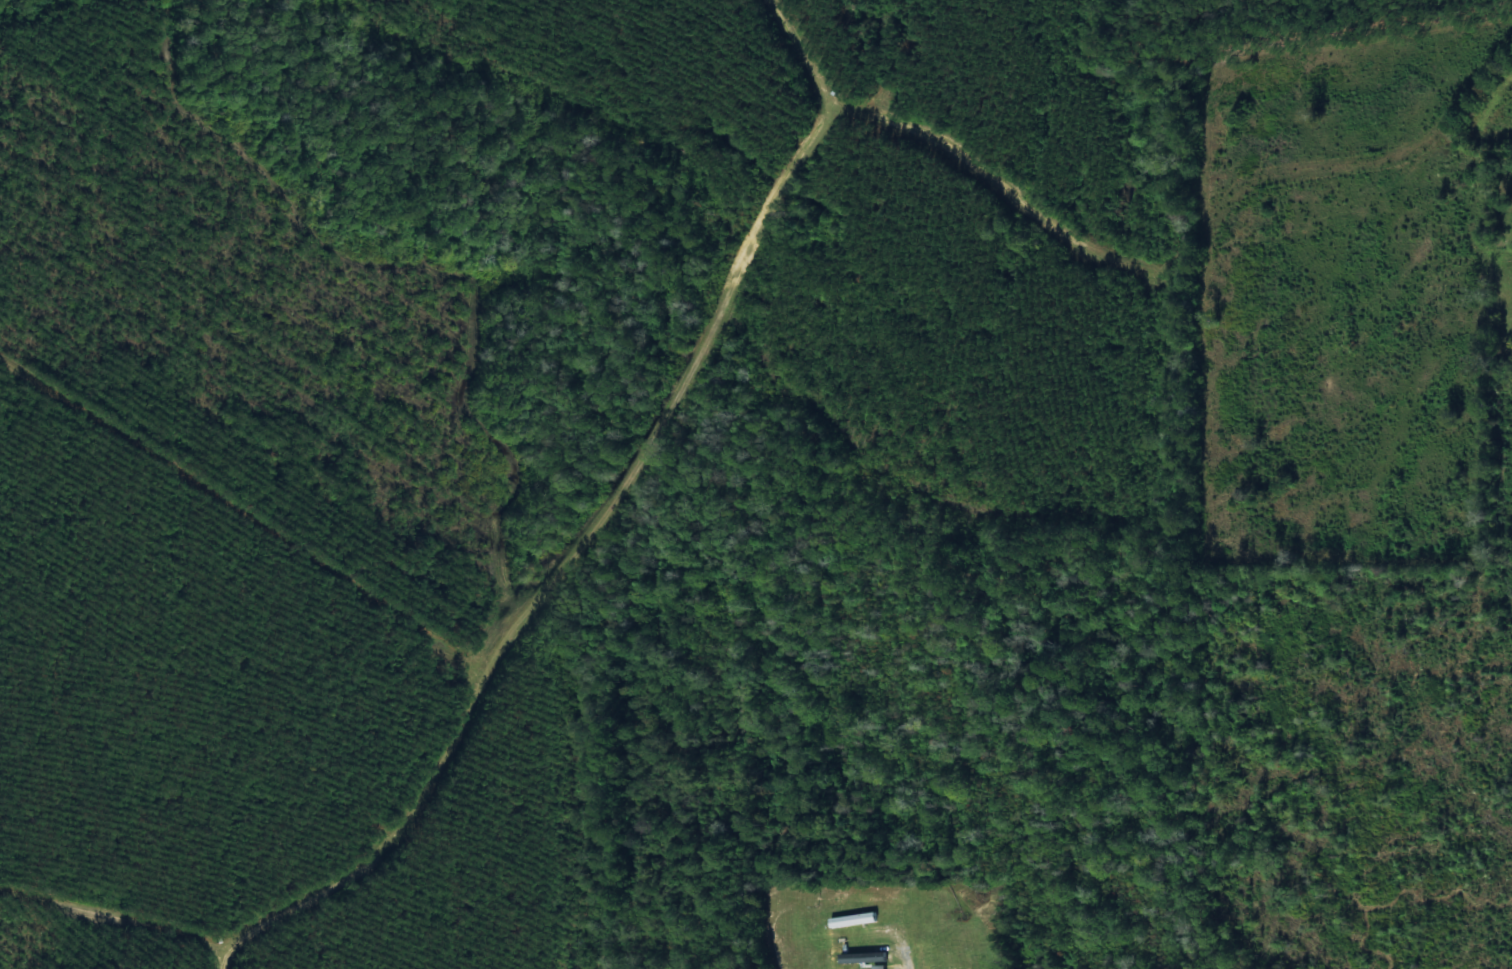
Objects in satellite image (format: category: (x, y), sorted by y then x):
road: (1502, 94)

